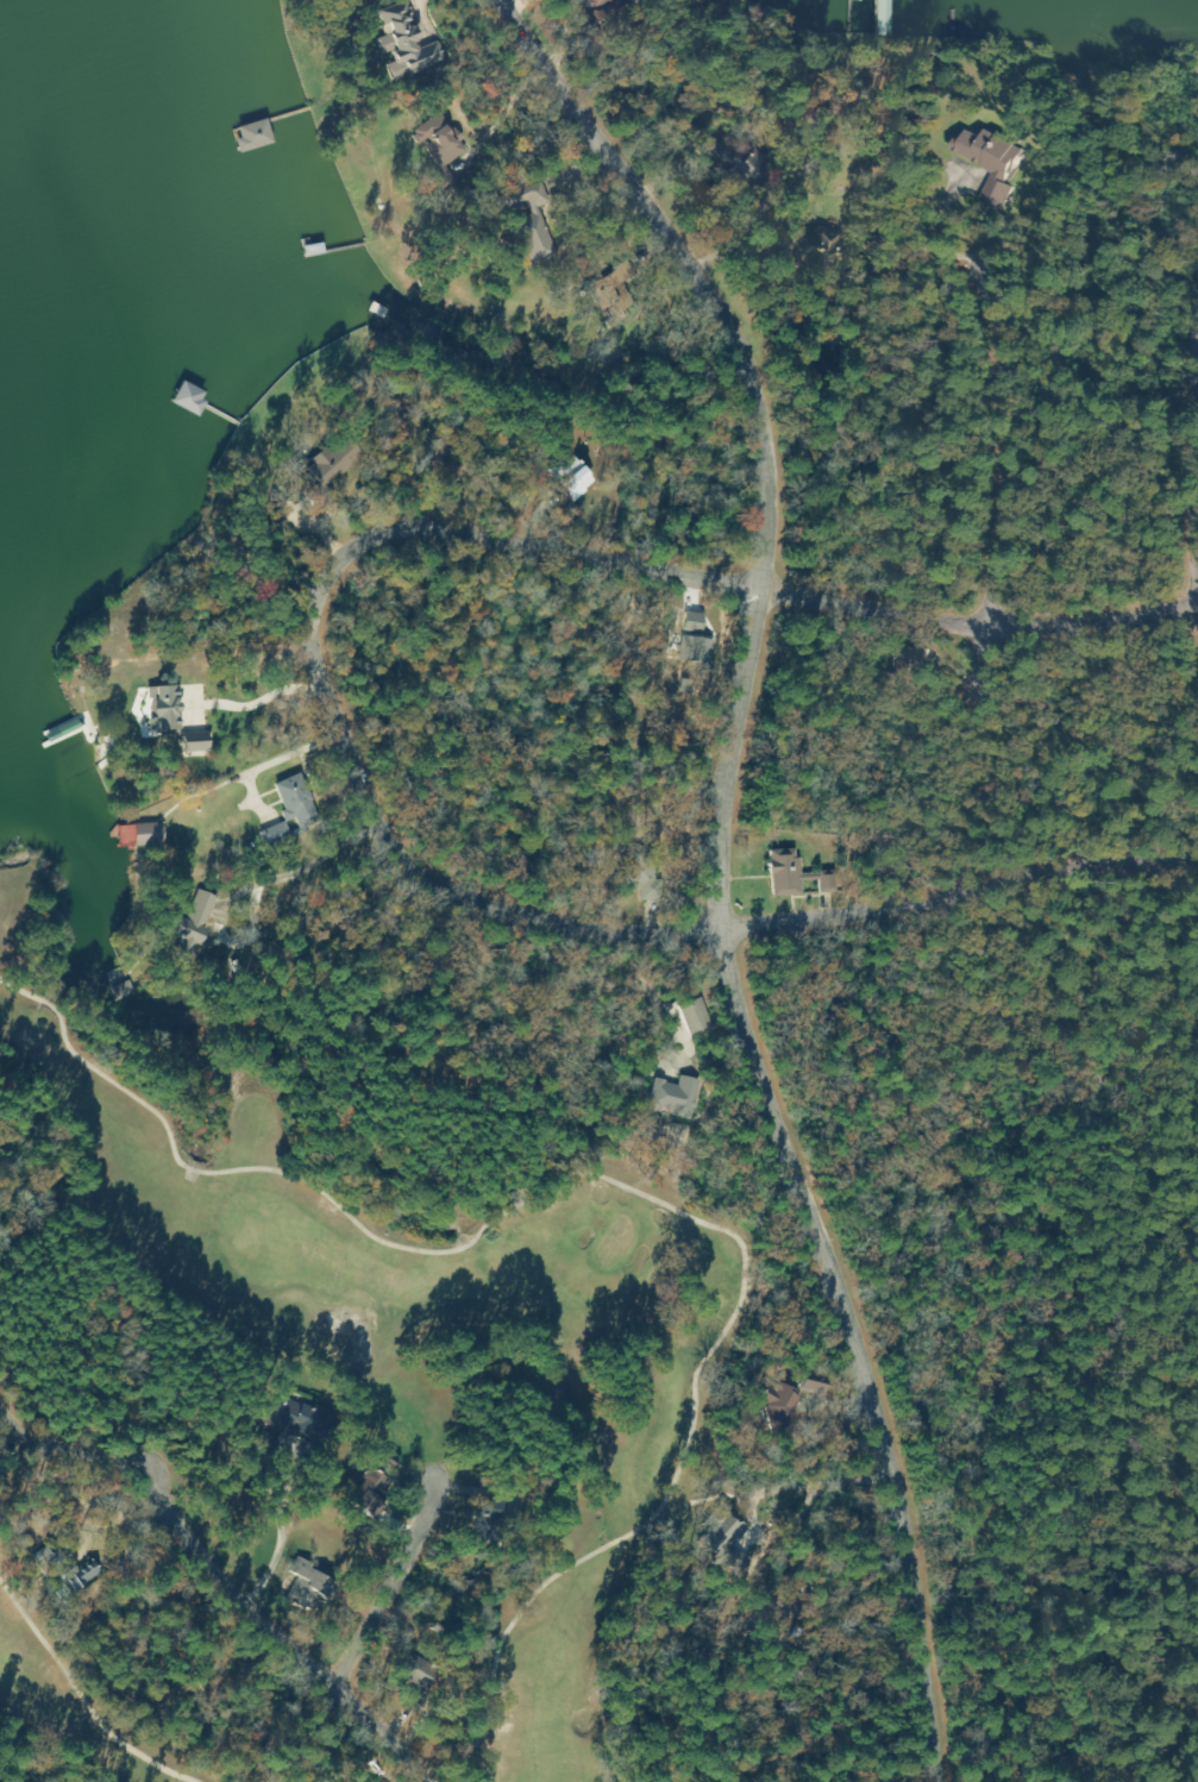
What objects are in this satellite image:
building: (854, 0)
building: (879, 18)
building: (402, 42)
building: (247, 137)
building: (435, 142)
building: (704, 150)
building: (984, 162)
building: (522, 195)
building: (533, 240)
building: (810, 249)
building: (614, 293)
building: (503, 351)
road: (794, 365)
road: (1174, 391)
building: (314, 466)
road: (954, 544)
road: (344, 625)
building: (903, 666)
building: (158, 709)
building: (188, 743)
building: (289, 798)
building: (271, 835)
building: (136, 836)
road: (947, 839)
building: (789, 877)
road: (702, 890)
building: (183, 928)
building: (112, 994)
building: (669, 1098)
building: (808, 1383)
building: (771, 1399)
building: (296, 1422)
road: (59, 1445)
building: (364, 1495)
building: (478, 1516)
building: (719, 1535)
road: (264, 1575)
building: (301, 1587)
road: (266, 1624)

